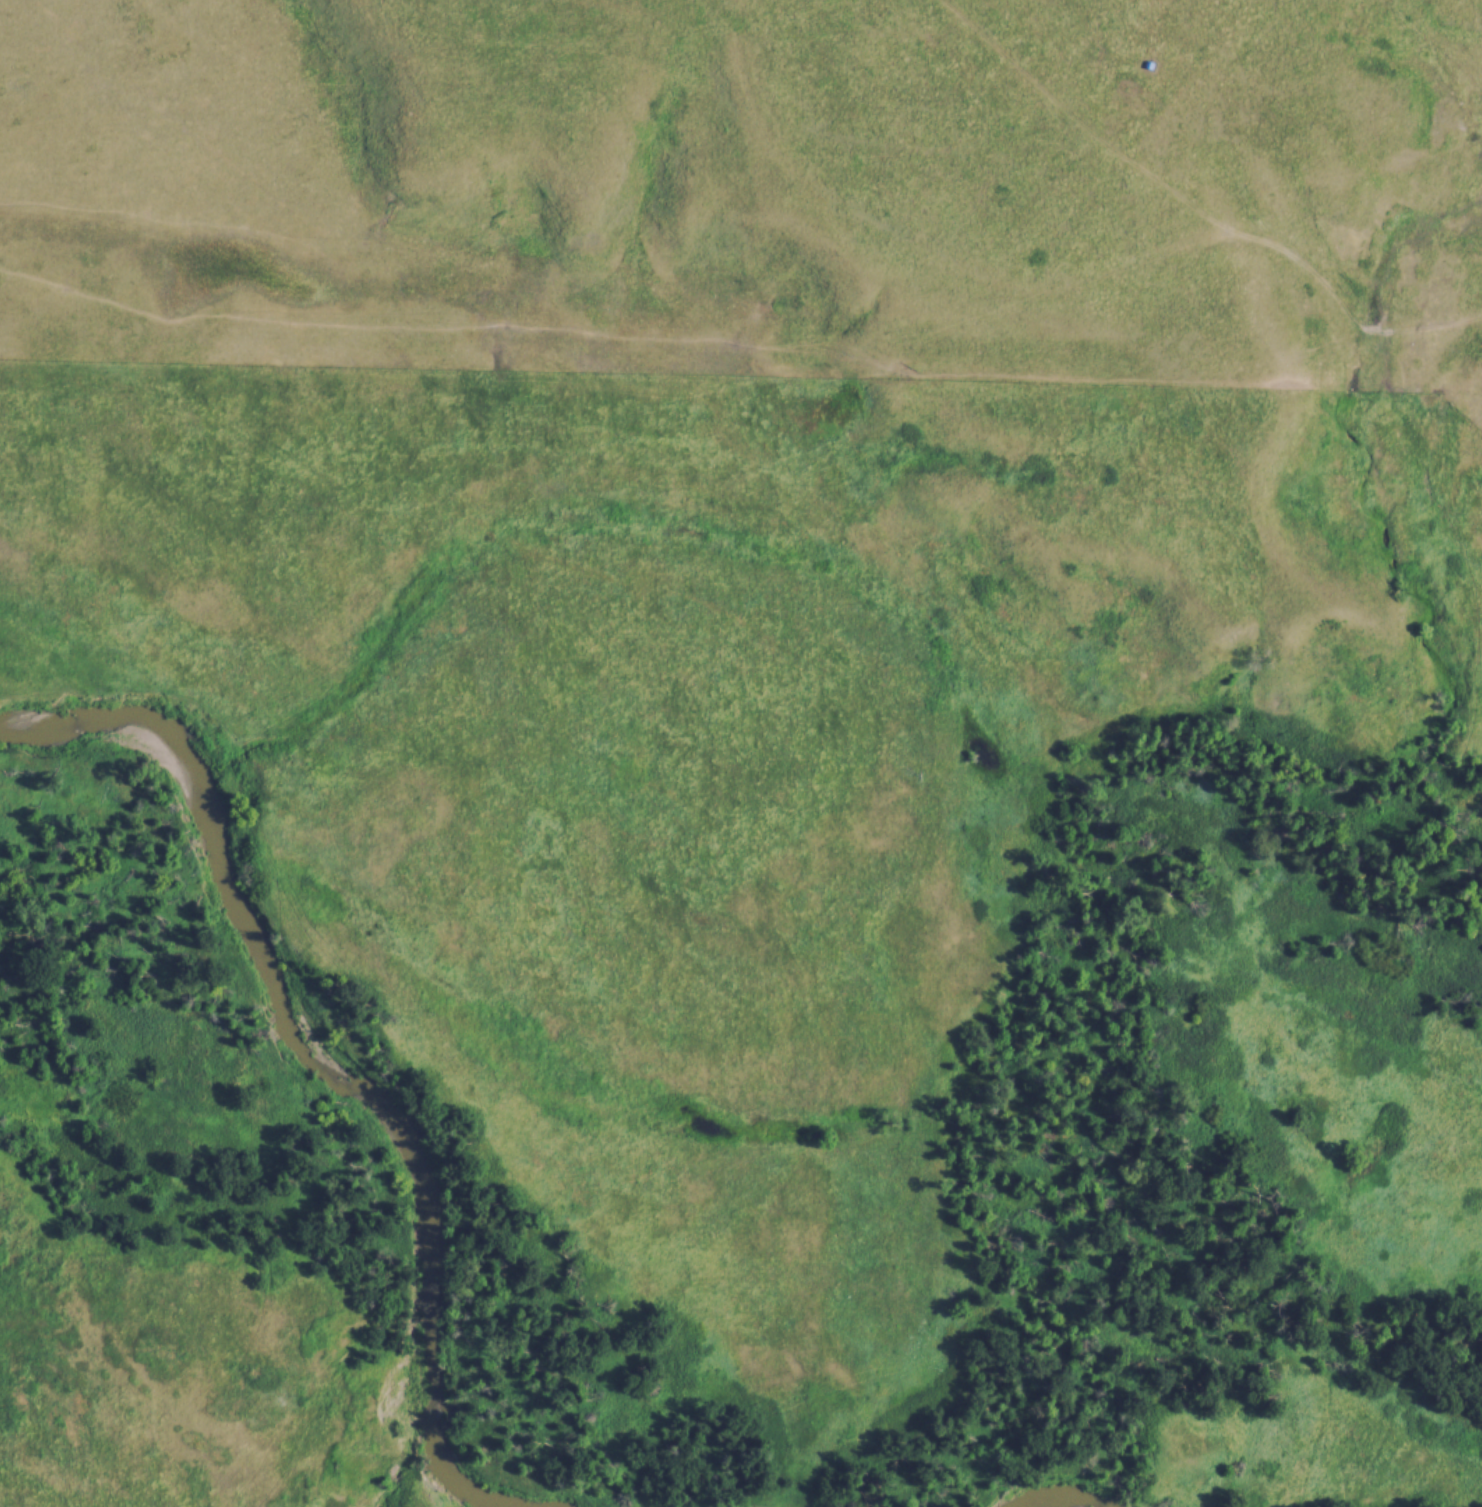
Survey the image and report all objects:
river: (332, 1070)
river: (1052, 1489)

